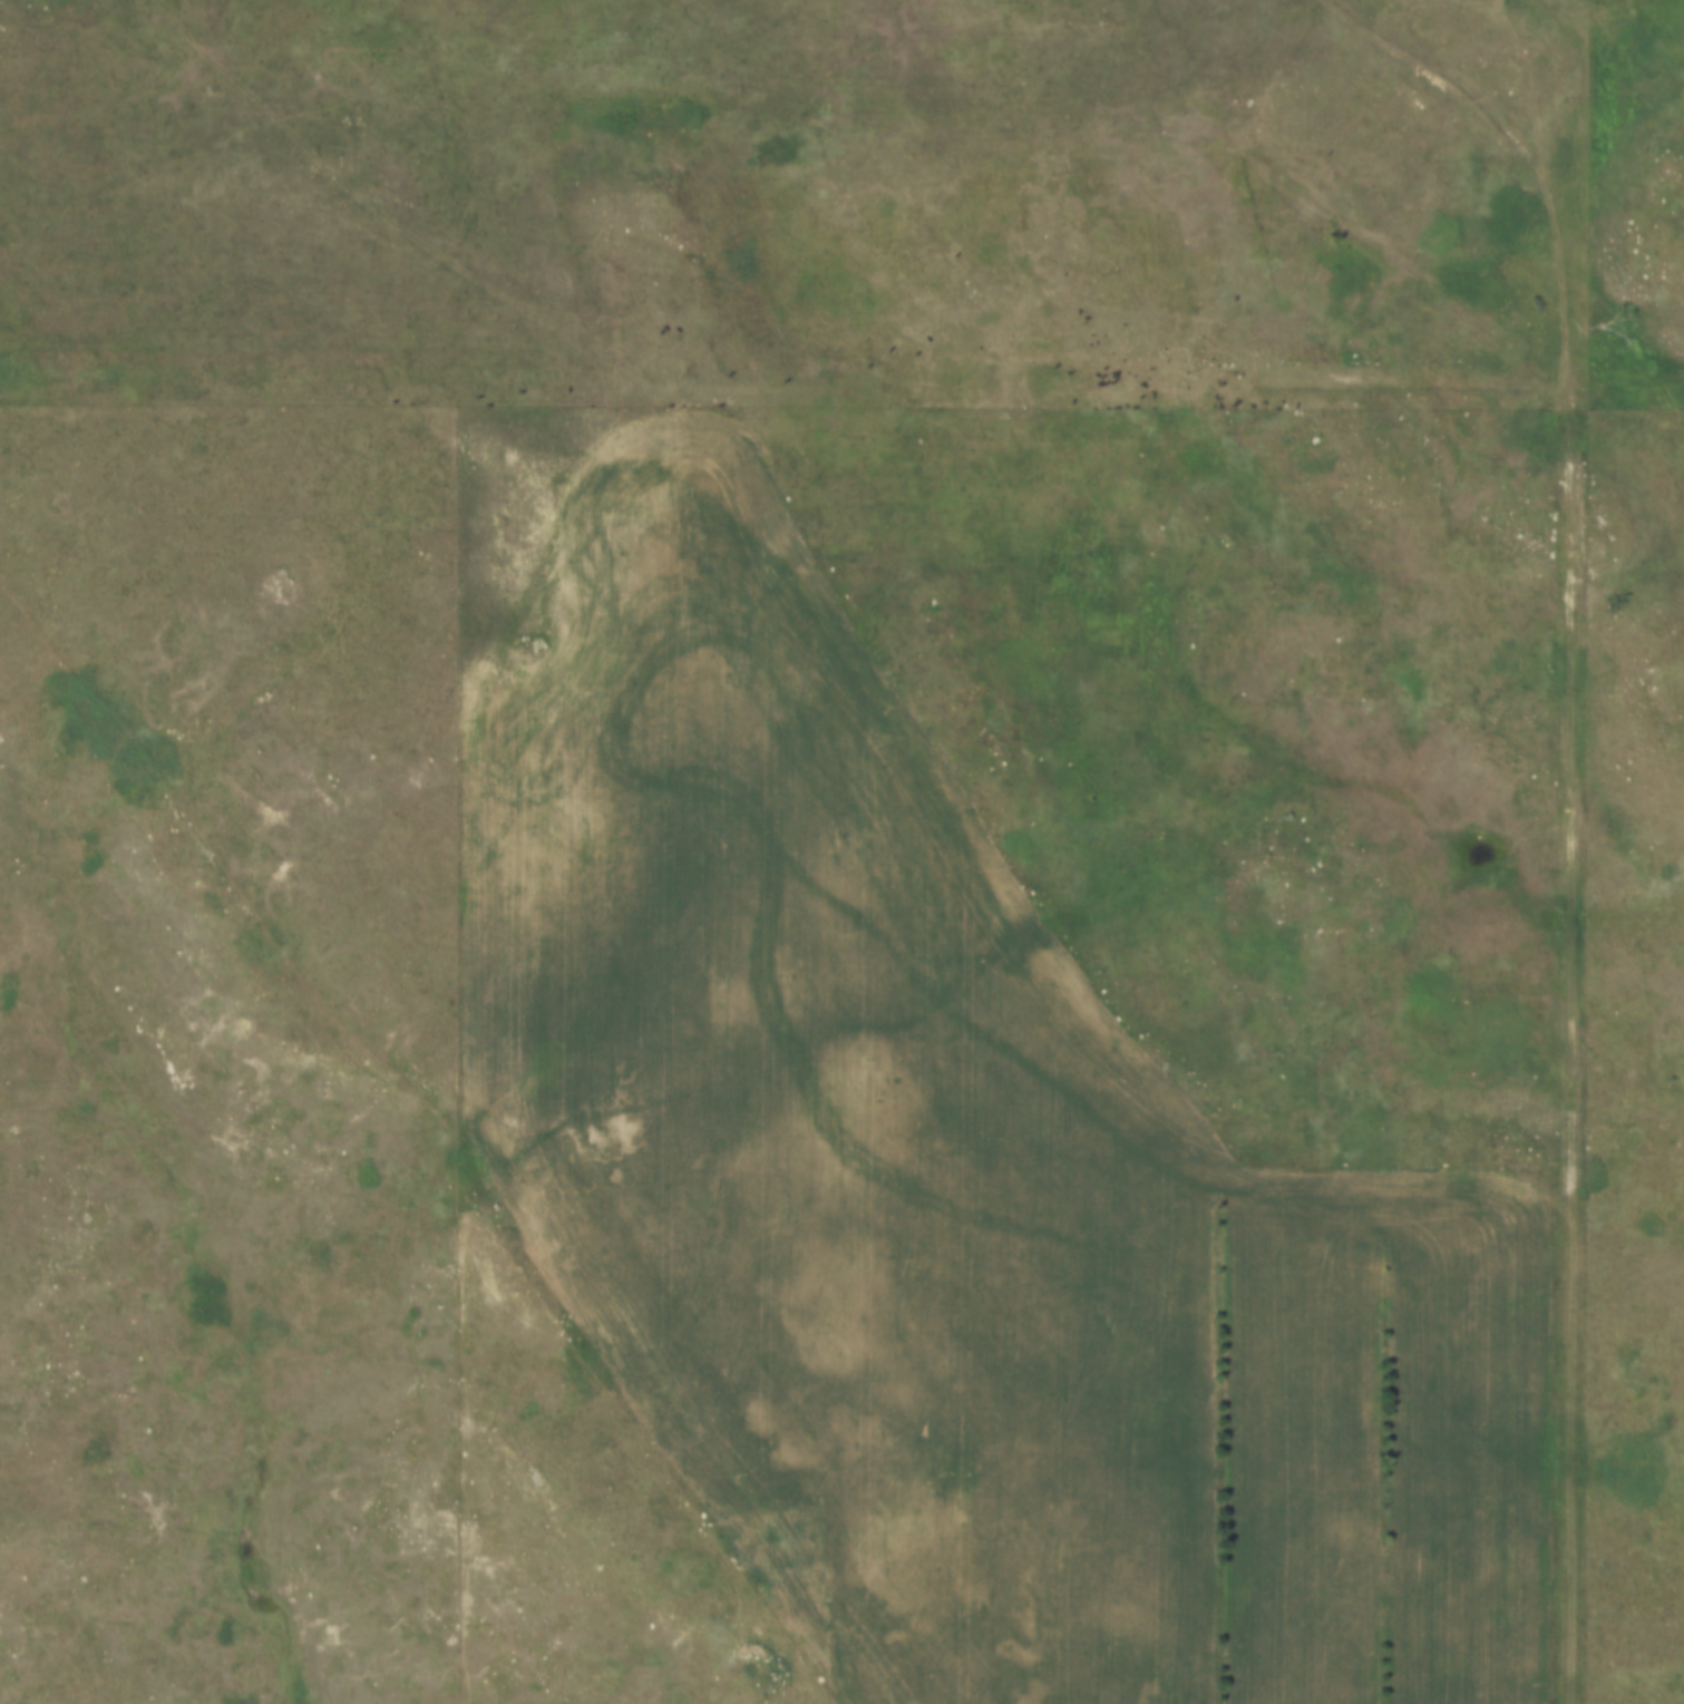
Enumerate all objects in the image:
road: (1567, 799)

